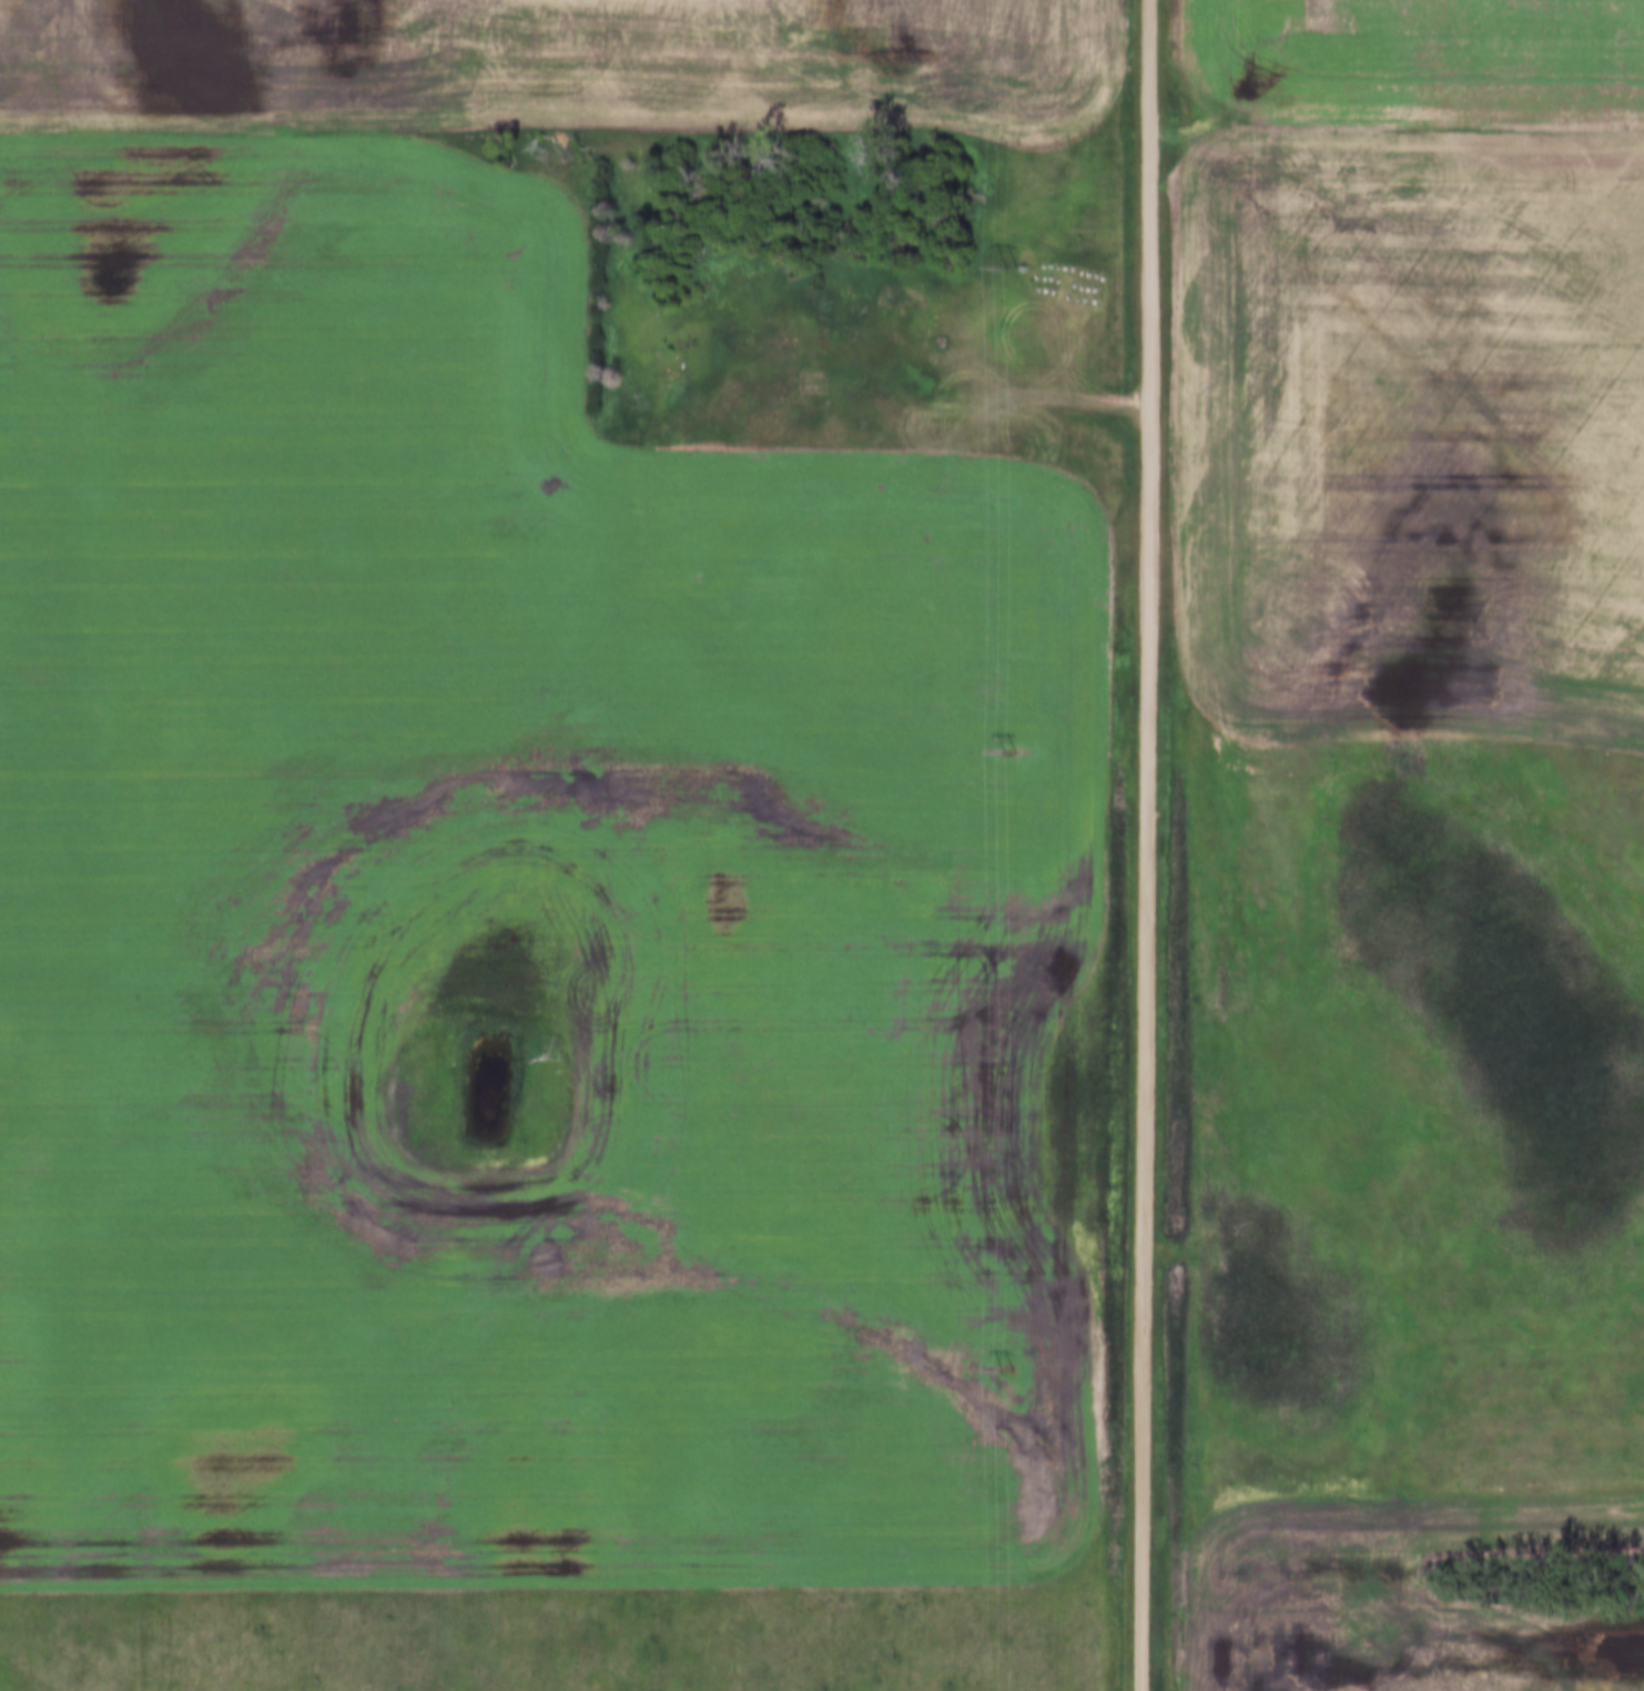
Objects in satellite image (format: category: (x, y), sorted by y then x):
road: (1149, 845)

